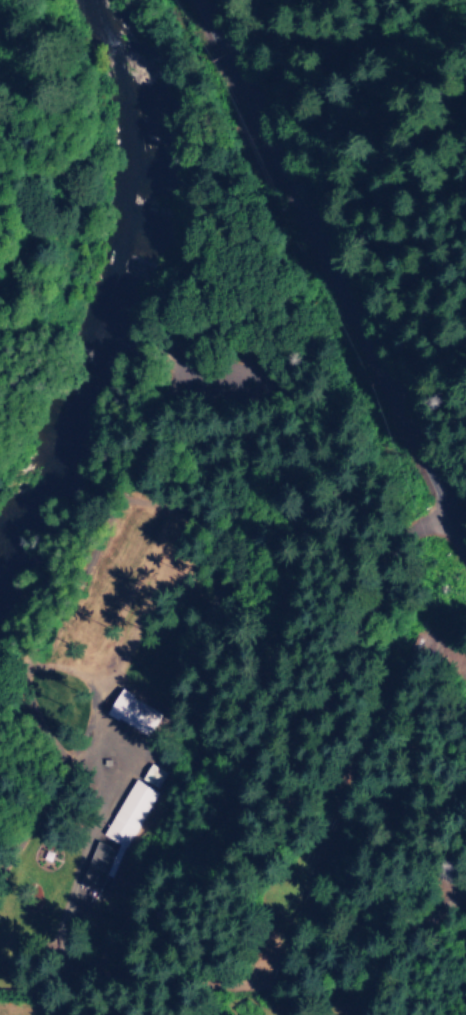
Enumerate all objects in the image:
road: (331, 272)
river: (127, 278)
parking lot: (230, 356)
road: (293, 602)
building: (130, 711)
building: (127, 813)
building: (94, 866)
road: (435, 967)

